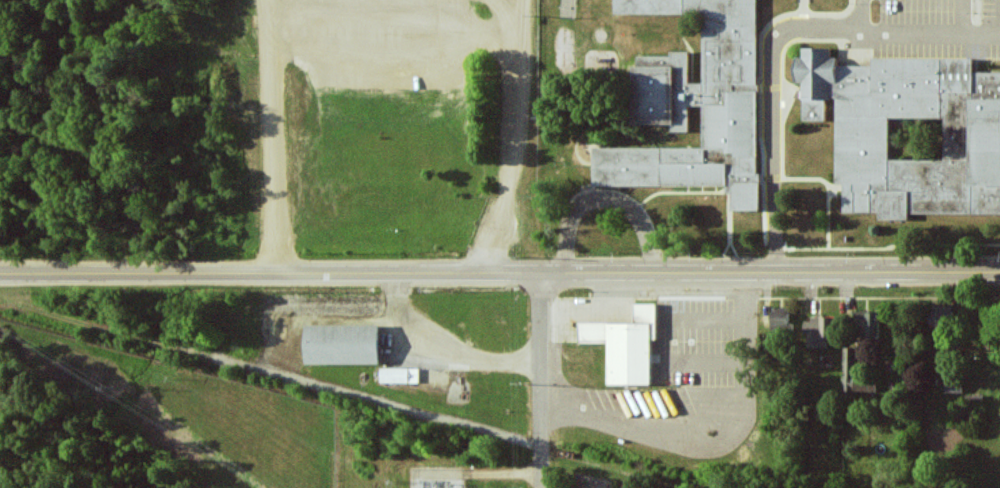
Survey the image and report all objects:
road: (887, 32)
road: (277, 35)
building: (695, 103)
building: (909, 133)
road: (510, 137)
road: (775, 154)
road: (606, 199)
road: (500, 273)
building: (941, 317)
building: (779, 318)
building: (867, 324)
building: (817, 332)
building: (625, 345)
building: (347, 346)
building: (399, 375)
road: (541, 380)
building: (953, 386)
building: (973, 401)
power substation: (437, 478)

